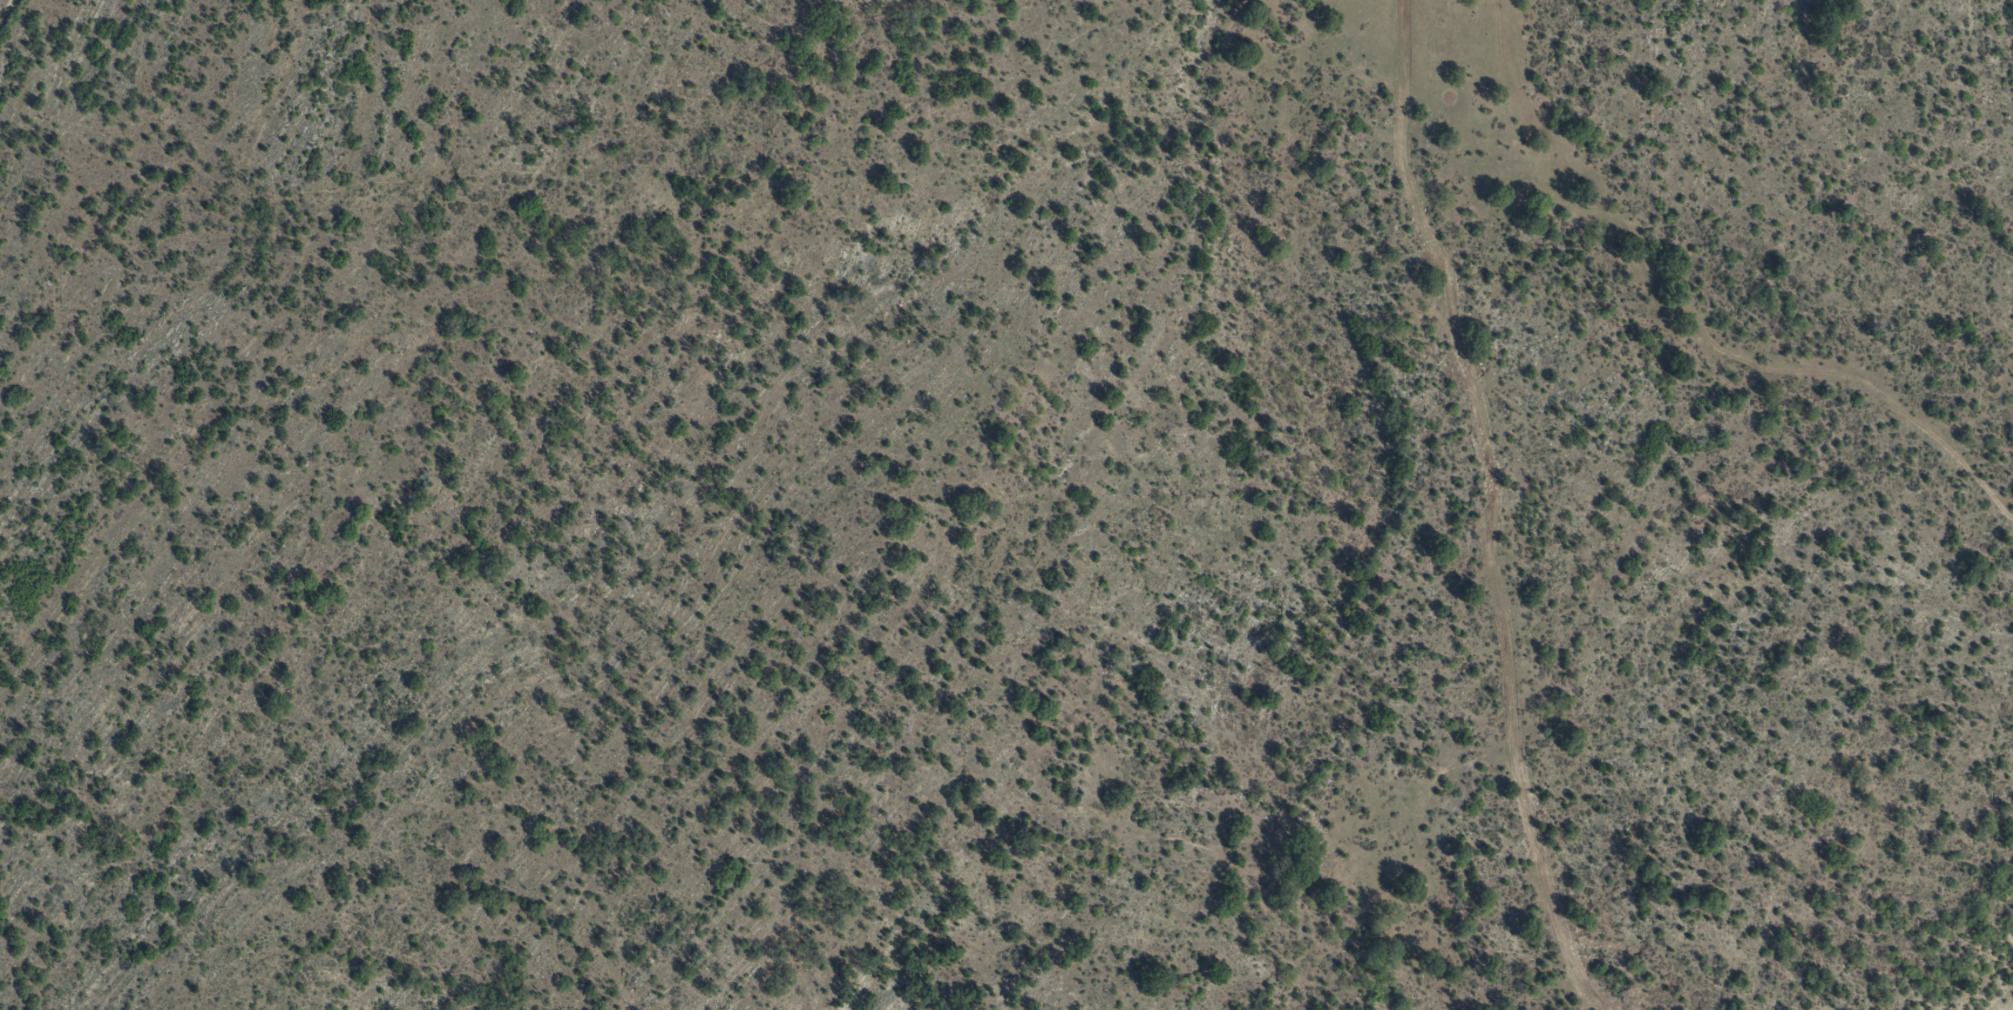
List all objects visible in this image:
road: (1520, 502)

